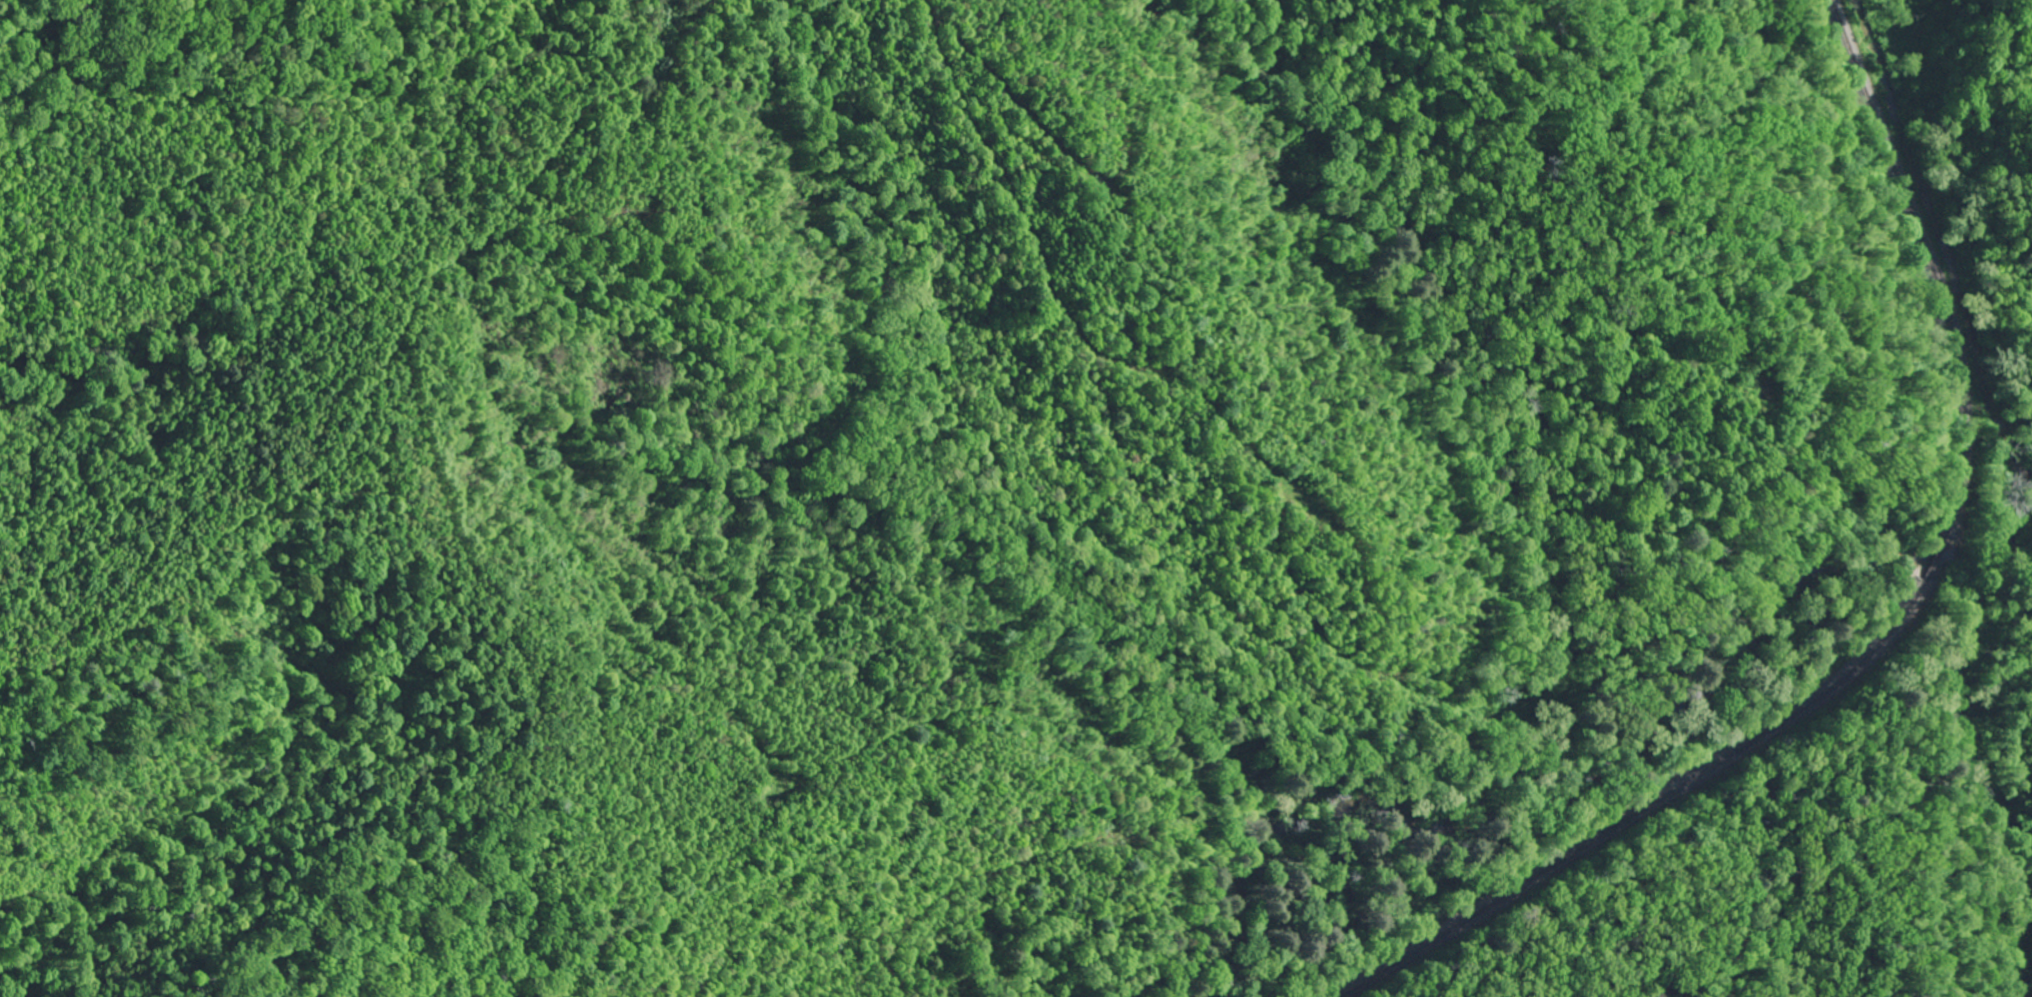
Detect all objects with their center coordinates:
road: (784, 236)
railway: (1898, 626)

